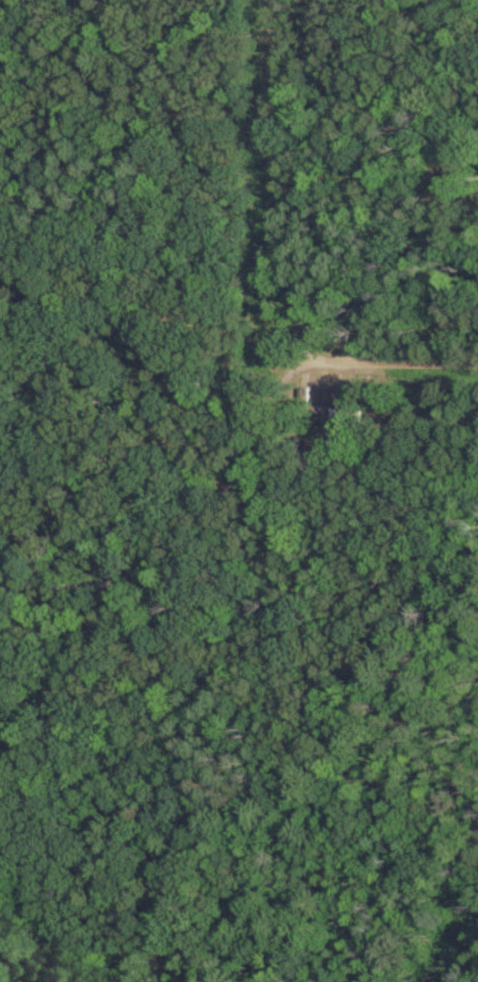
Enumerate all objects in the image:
road: (382, 149)
road: (291, 243)
road: (209, 500)

